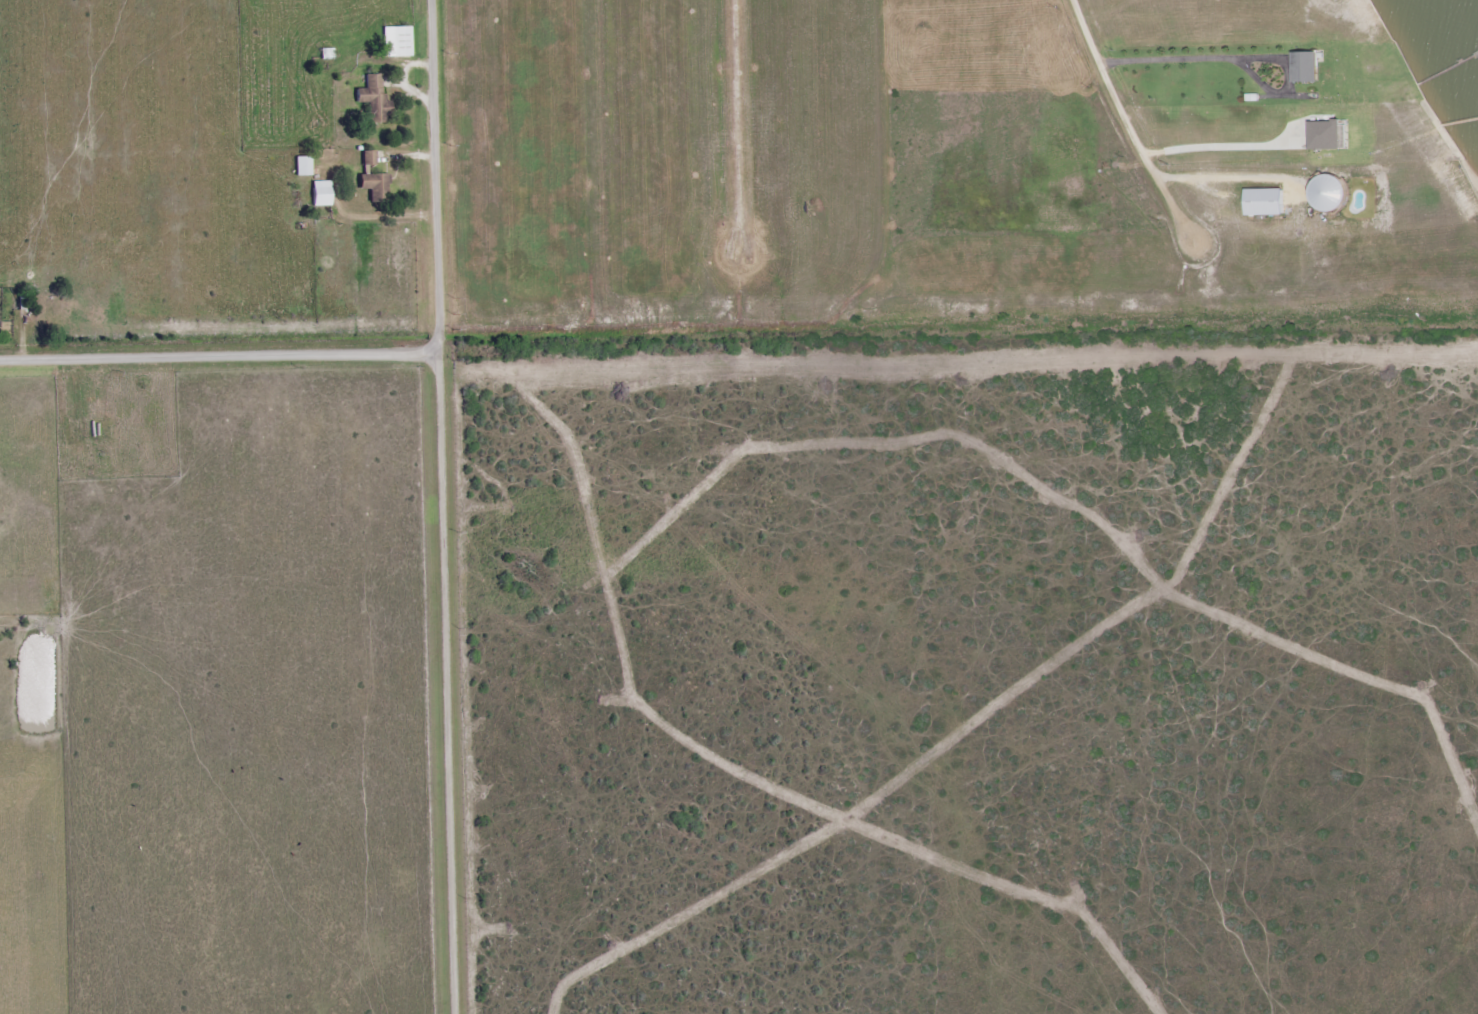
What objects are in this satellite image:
building: (1308, 67)
building: (375, 99)
building: (1330, 135)
building: (304, 166)
building: (376, 186)
building: (322, 193)
building: (1331, 194)
building: (1266, 203)
road: (220, 352)
road: (444, 507)

